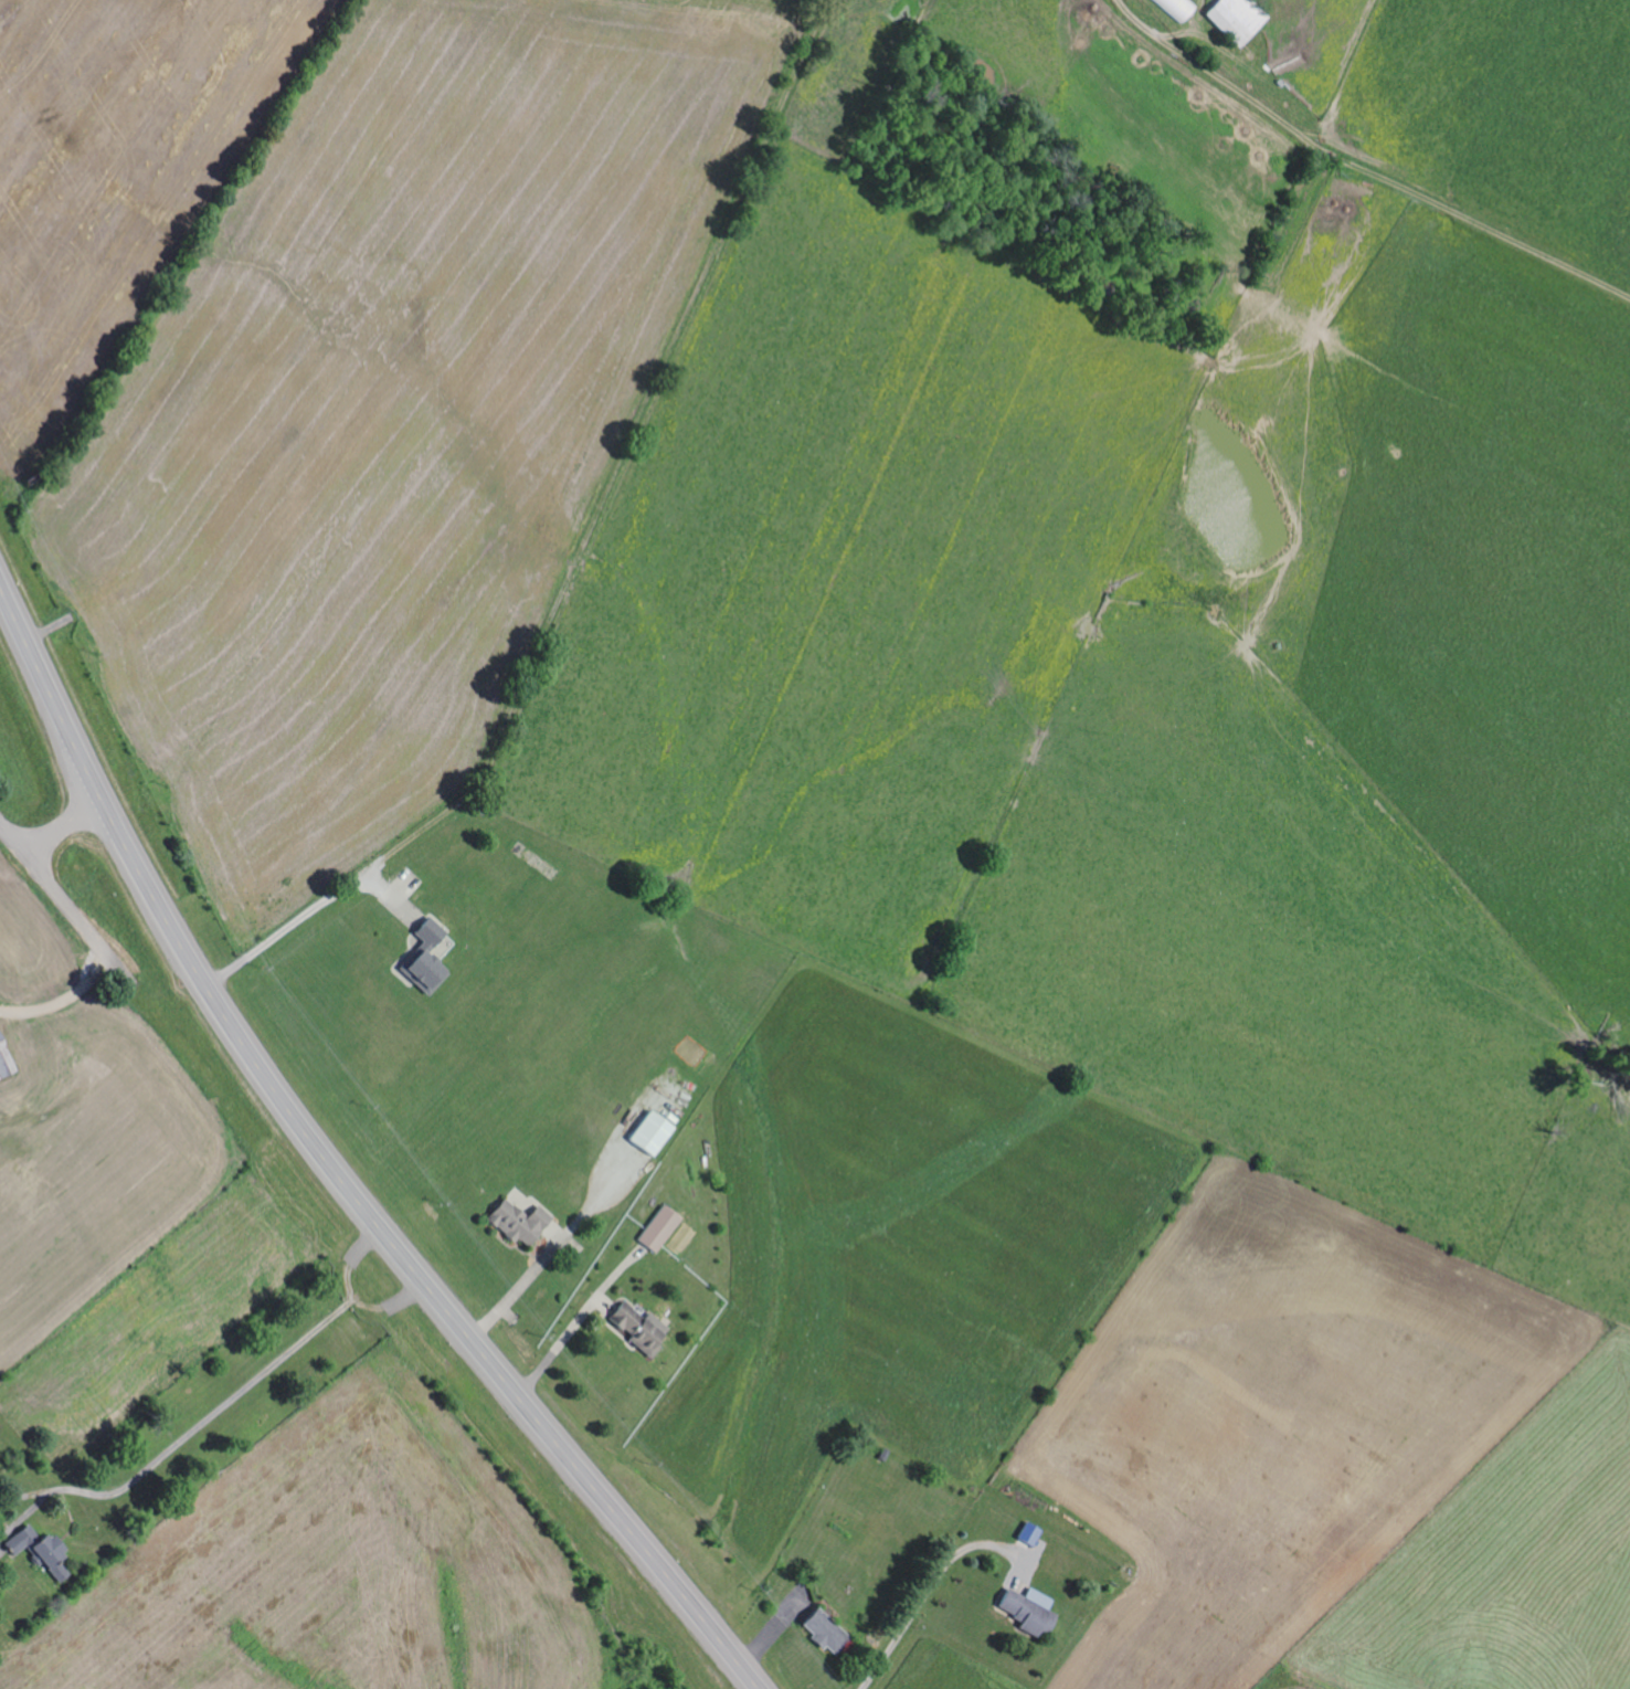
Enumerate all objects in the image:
building: (1173, 7)
building: (1232, 18)
road: (63, 827)
road: (63, 904)
building: (424, 957)
building: (3, 1064)
building: (648, 1133)
road: (332, 1167)
building: (515, 1221)
building: (656, 1228)
building: (634, 1327)
building: (1027, 1533)
building: (32, 1545)
building: (1027, 1611)
building: (824, 1632)

